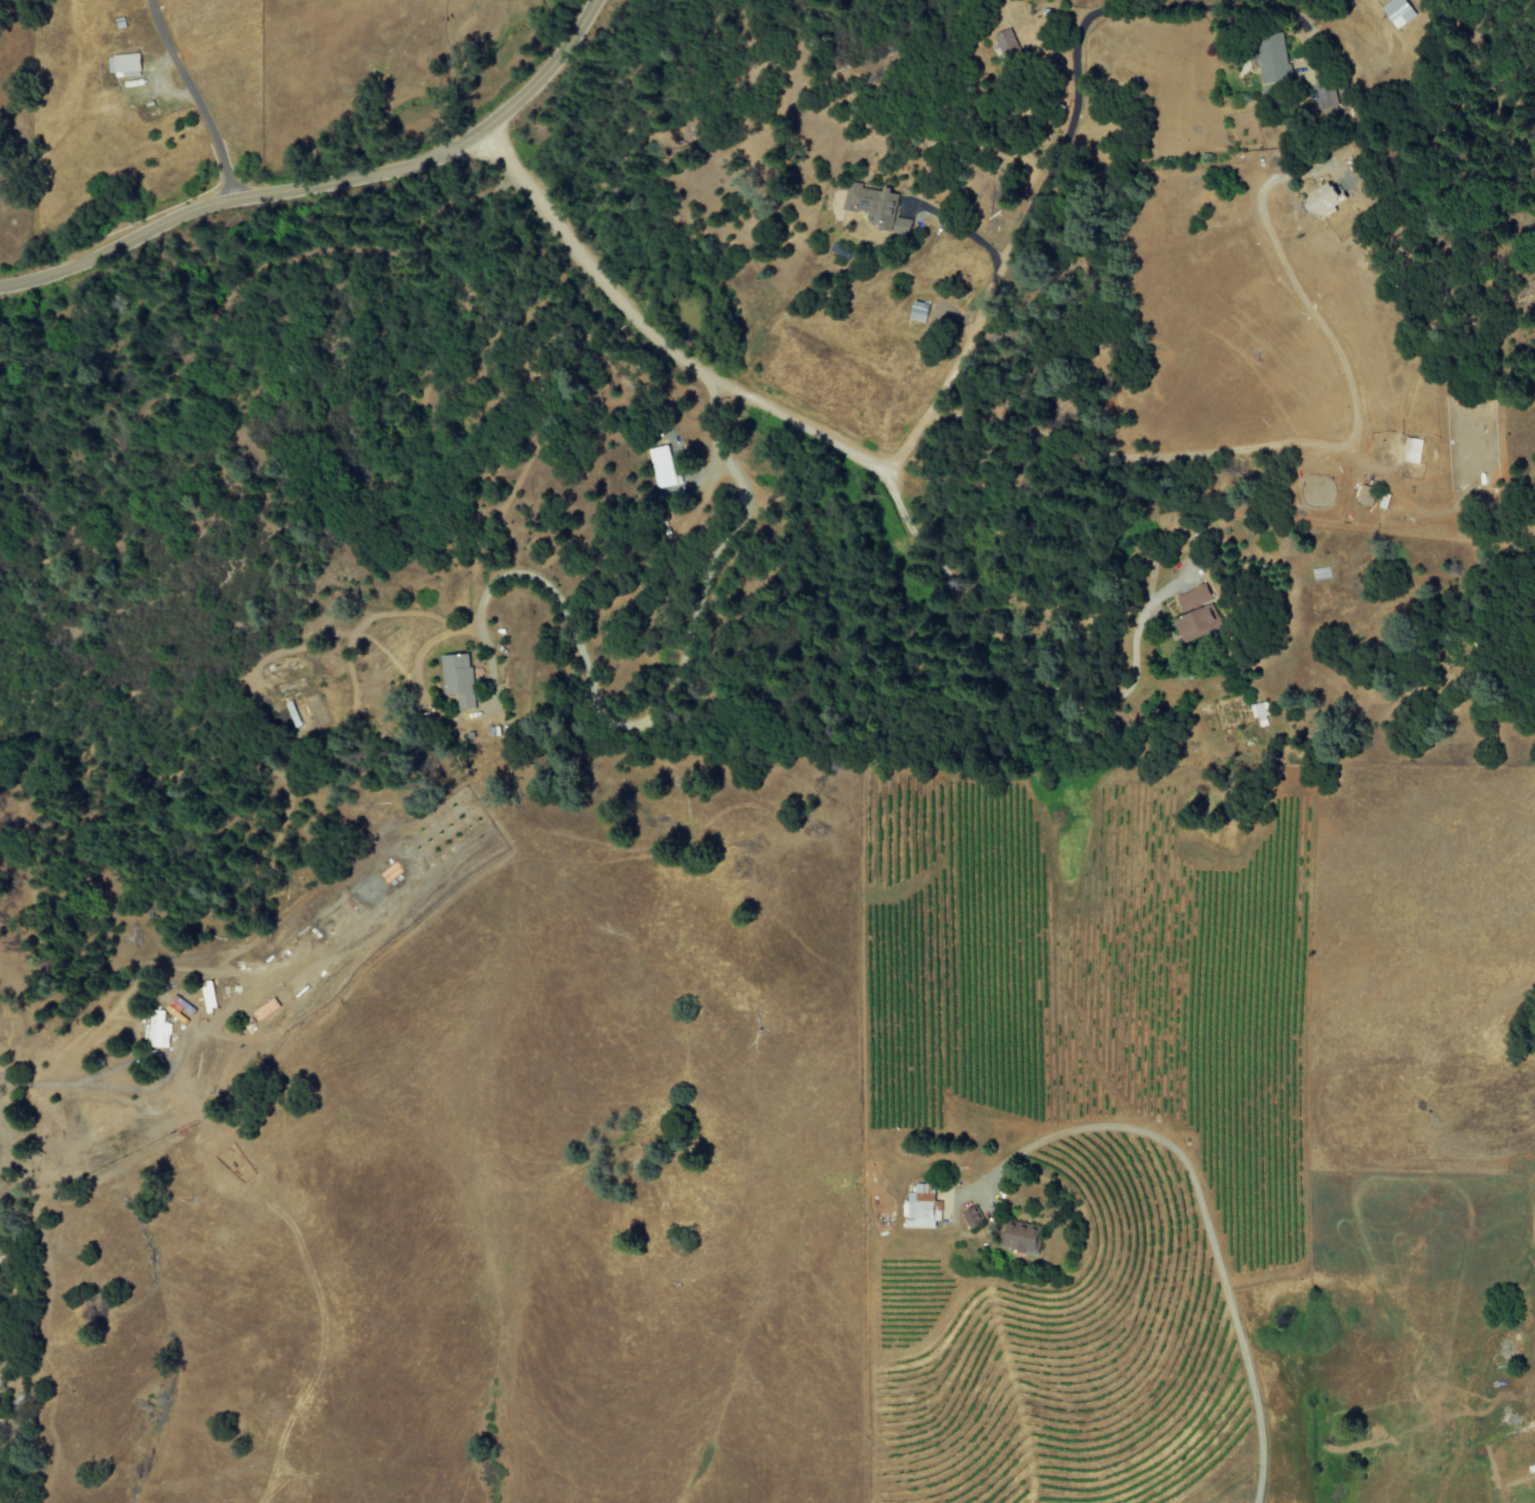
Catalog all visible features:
building: (1397, 12)
building: (1005, 44)
building: (1272, 60)
building: (123, 65)
road: (193, 99)
building: (1325, 101)
road: (1063, 142)
road: (324, 185)
building: (1320, 201)
building: (837, 206)
building: (876, 208)
road: (653, 335)
road: (1279, 443)
building: (1411, 450)
building: (662, 467)
building: (1195, 614)
road: (1029, 658)
building: (455, 678)
building: (1259, 712)
building: (261, 1009)
building: (150, 1030)
crop: (1090, 1118)
building: (921, 1208)
road: (1198, 1208)
road: (1533, 1230)
building: (1019, 1236)

